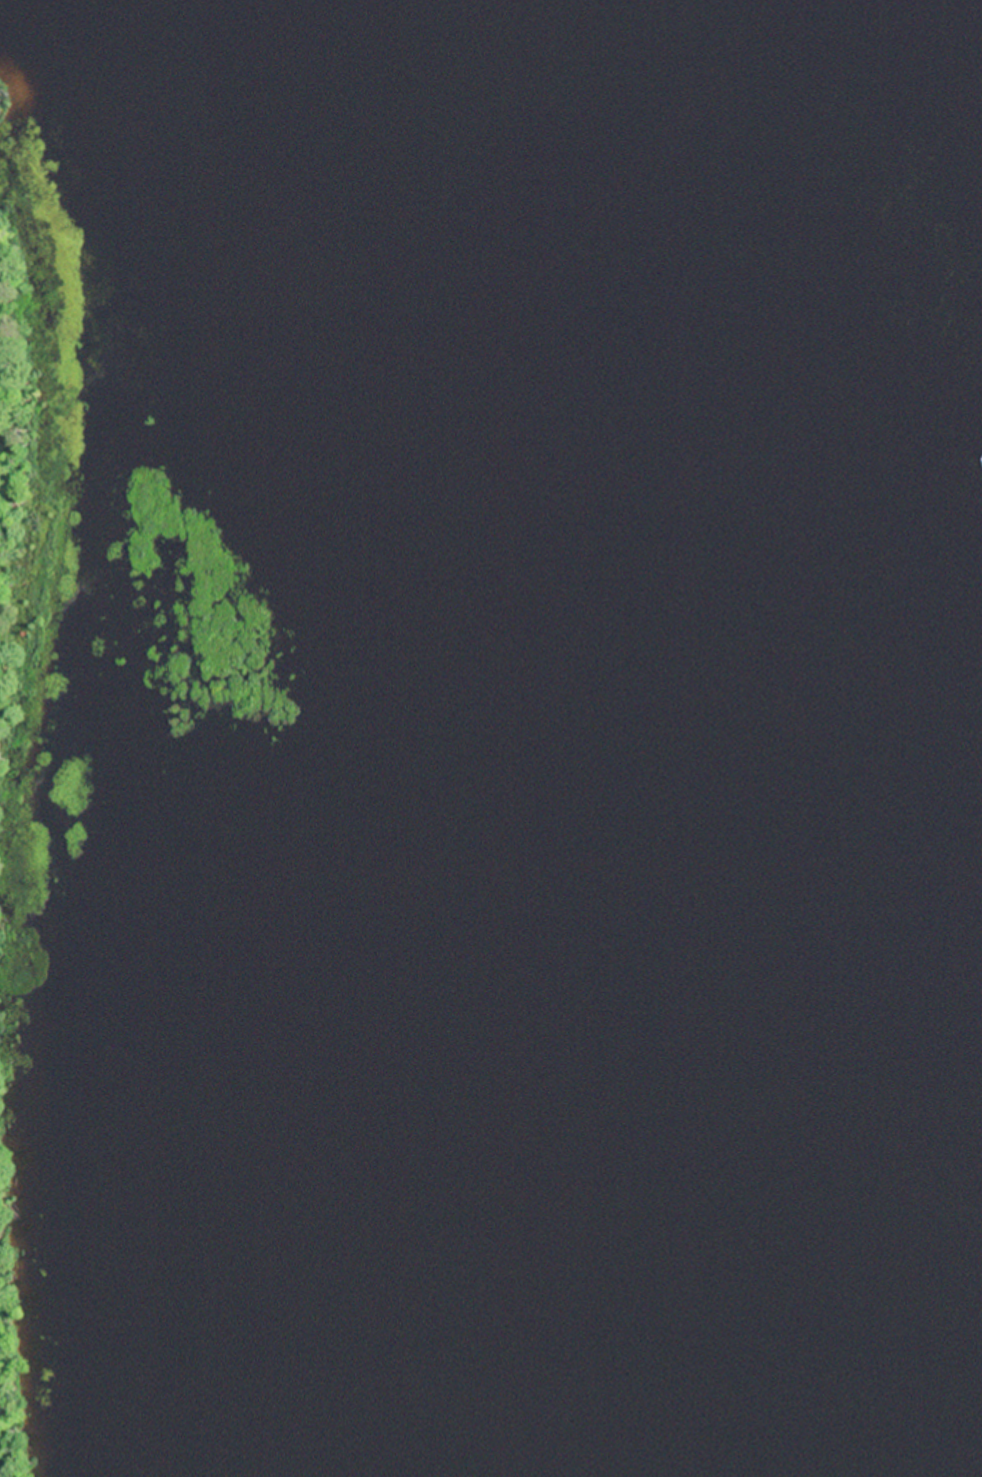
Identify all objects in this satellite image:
river: (762, 160)

